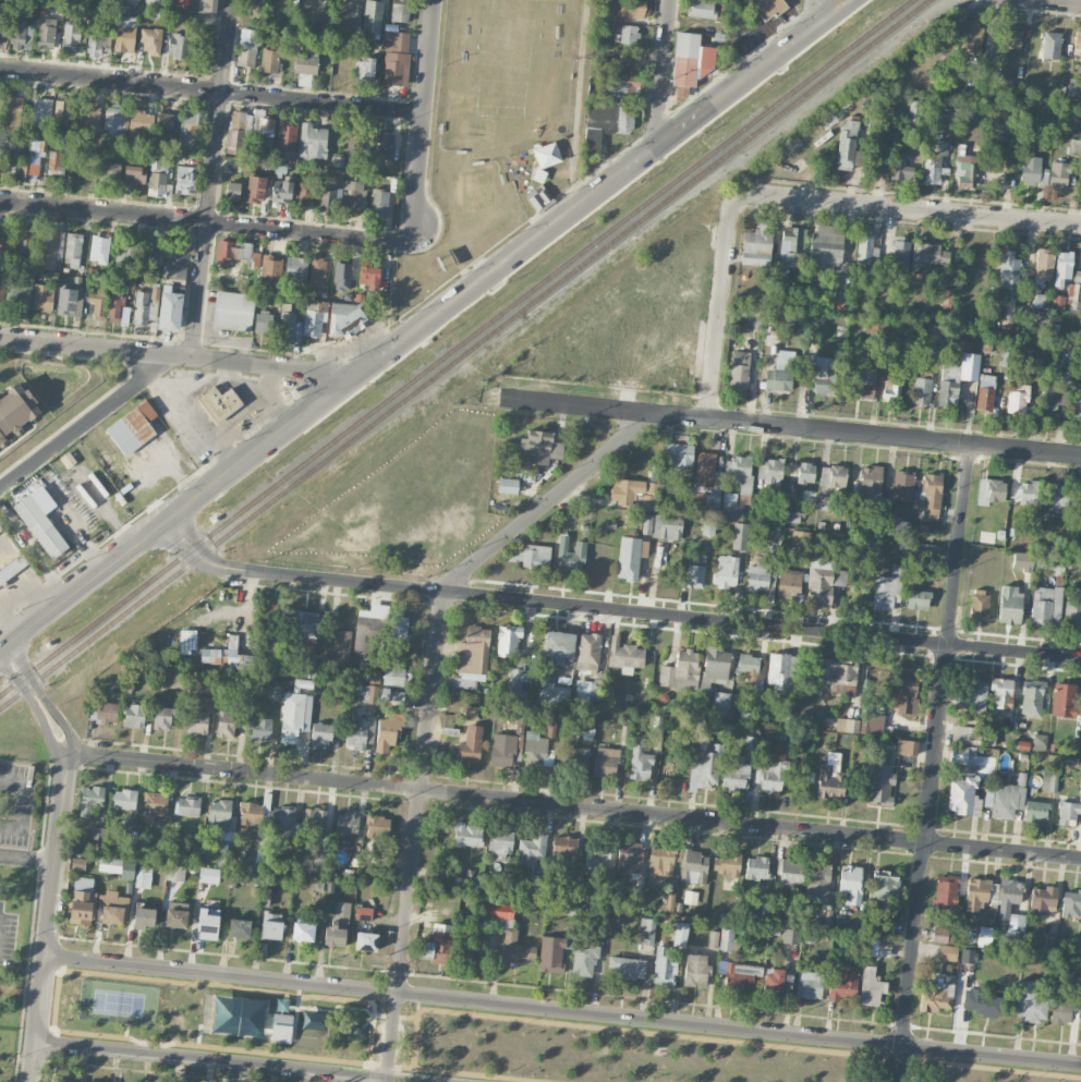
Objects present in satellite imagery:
building: (111, 0)
building: (154, 1)
building: (134, 2)
road: (1054, 2)
building: (180, 3)
building: (207, 7)
building: (628, 8)
building: (767, 8)
building: (0, 9)
building: (701, 9)
building: (400, 10)
building: (349, 12)
building: (373, 15)
road: (811, 16)
building: (46, 34)
building: (125, 34)
building: (625, 34)
building: (21, 35)
building: (971, 38)
building: (1010, 38)
building: (70, 39)
building: (150, 40)
building: (1077, 42)
building: (97, 44)
building: (991, 45)
building: (177, 46)
building: (1050, 46)
building: (247, 47)
building: (396, 58)
building: (630, 59)
building: (690, 59)
building: (269, 60)
building: (305, 68)
building: (364, 69)
road: (660, 76)
building: (892, 77)
building: (622, 86)
road: (211, 90)
road: (576, 104)
building: (13, 106)
building: (41, 112)
building: (61, 113)
building: (88, 117)
building: (830, 118)
building: (193, 119)
road: (423, 121)
building: (112, 123)
building: (163, 123)
building: (606, 123)
building: (139, 126)
building: (263, 130)
building: (236, 132)
building: (287, 136)
building: (312, 141)
building: (355, 143)
building: (385, 145)
building: (847, 145)
building: (547, 155)
building: (875, 155)
building: (9, 159)
building: (54, 162)
building: (902, 169)
building: (109, 170)
building: (933, 170)
building: (965, 170)
building: (1033, 172)
building: (1058, 174)
building: (134, 175)
building: (157, 177)
building: (184, 178)
road: (211, 179)
building: (255, 189)
building: (281, 189)
building: (232, 190)
building: (305, 192)
building: (353, 196)
building: (537, 197)
building: (328, 199)
building: (378, 203)
road: (906, 210)
road: (206, 221)
building: (3, 239)
building: (24, 240)
building: (826, 245)
building: (791, 246)
building: (757, 247)
building: (865, 248)
building: (47, 250)
building: (73, 250)
building: (99, 251)
building: (224, 251)
building: (245, 251)
building: (148, 254)
building: (932, 254)
building: (123, 256)
building: (896, 257)
building: (175, 260)
building: (1044, 263)
building: (1064, 265)
building: (267, 266)
building: (295, 268)
building: (317, 272)
building: (342, 276)
building: (368, 277)
building: (1008, 284)
building: (1, 293)
building: (19, 296)
building: (943, 296)
building: (42, 297)
building: (381, 297)
building: (1068, 297)
building: (97, 301)
building: (842, 301)
building: (70, 302)
building: (170, 307)
building: (114, 308)
building: (142, 308)
road: (718, 309)
building: (233, 311)
building: (315, 317)
building: (345, 318)
building: (264, 321)
building: (289, 326)
road: (426, 326)
building: (878, 327)
railway: (454, 347)
railway: (463, 353)
road: (172, 355)
building: (739, 368)
building: (780, 372)
building: (825, 375)
road: (238, 378)
building: (956, 378)
building: (860, 381)
road: (197, 385)
building: (921, 391)
building: (890, 393)
building: (985, 397)
road: (267, 399)
building: (1017, 400)
building: (1053, 400)
building: (219, 403)
building: (1078, 409)
building: (15, 413)
road: (192, 422)
road: (83, 425)
road: (785, 427)
building: (132, 428)
building: (538, 448)
building: (678, 455)
building: (705, 471)
building: (740, 472)
building: (805, 472)
building: (770, 473)
building: (831, 476)
building: (870, 482)
building: (508, 485)
building: (902, 486)
building: (989, 490)
building: (634, 493)
building: (1028, 493)
building: (931, 497)
building: (1059, 498)
building: (705, 500)
building: (824, 501)
road: (545, 502)
building: (731, 507)
building: (792, 516)
building: (645, 524)
building: (40, 526)
building: (894, 526)
building: (708, 527)
building: (669, 528)
building: (1, 530)
building: (773, 533)
building: (740, 536)
building: (801, 539)
building: (927, 551)
building: (571, 555)
building: (530, 556)
building: (628, 558)
building: (1022, 560)
building: (12, 568)
building: (726, 572)
building: (695, 573)
building: (757, 576)
building: (823, 580)
building: (789, 582)
building: (887, 588)
building: (918, 599)
building: (1009, 604)
building: (979, 605)
building: (1045, 606)
building: (1072, 609)
road: (615, 612)
building: (305, 624)
building: (399, 627)
building: (368, 628)
building: (508, 640)
building: (187, 641)
building: (342, 643)
building: (557, 647)
building: (588, 652)
building: (224, 655)
building: (624, 656)
building: (472, 658)
building: (715, 666)
building: (752, 667)
building: (680, 671)
building: (394, 672)
building: (782, 672)
building: (837, 673)
building: (374, 677)
building: (518, 681)
building: (209, 684)
building: (588, 688)
building: (275, 692)
building: (903, 692)
building: (554, 693)
building: (1001, 693)
building: (372, 694)
building: (973, 694)
building: (392, 695)
building: (1031, 697)
building: (1064, 700)
building: (720, 704)
building: (93, 709)
building: (471, 712)
building: (107, 713)
building: (133, 716)
building: (294, 716)
building: (162, 717)
building: (197, 722)
building: (872, 722)
building: (227, 724)
building: (551, 725)
building: (847, 725)
building: (260, 729)
building: (587, 731)
building: (360, 732)
building: (321, 733)
building: (387, 733)
building: (965, 734)
building: (988, 739)
building: (1039, 742)
building: (469, 745)
building: (906, 746)
building: (1073, 747)
building: (536, 750)
building: (962, 754)
building: (501, 755)
building: (578, 758)
building: (639, 759)
building: (606, 762)
road: (933, 764)
building: (705, 767)
building: (736, 771)
building: (770, 775)
building: (831, 778)
building: (1049, 780)
building: (878, 785)
building: (1080, 790)
building: (963, 797)
building: (124, 799)
building: (90, 800)
road: (514, 800)
building: (1007, 800)
road: (25, 803)
building: (155, 805)
building: (189, 805)
building: (1035, 811)
building: (251, 813)
building: (1068, 813)
building: (221, 818)
building: (283, 820)
building: (314, 823)
building: (347, 823)
building: (377, 826)
building: (98, 834)
building: (130, 837)
road: (414, 838)
building: (500, 843)
building: (564, 847)
building: (532, 849)
building: (629, 858)
road: (27, 859)
building: (594, 862)
building: (659, 864)
building: (727, 864)
building: (118, 866)
building: (756, 867)
building: (175, 873)
building: (790, 873)
building: (208, 875)
building: (818, 883)
building: (885, 883)
building: (535, 884)
building: (850, 884)
building: (604, 888)
building: (946, 891)
building: (976, 893)
building: (635, 895)
building: (265, 897)
building: (1008, 898)
building: (1043, 899)
building: (82, 901)
building: (1071, 903)
building: (667, 904)
building: (112, 908)
building: (498, 911)
building: (363, 913)
building: (177, 914)
road: (50, 915)
building: (144, 916)
building: (207, 923)
building: (338, 925)
building: (271, 926)
building: (239, 927)
building: (874, 928)
building: (647, 929)
building: (303, 932)
building: (680, 934)
building: (984, 935)
building: (790, 936)
building: (943, 936)
building: (1012, 938)
building: (713, 939)
building: (726, 939)
building: (365, 941)
building: (438, 945)
building: (876, 946)
building: (258, 947)
building: (515, 948)
building: (948, 952)
building: (551, 953)
building: (584, 959)
building: (664, 966)
building: (628, 968)
building: (695, 970)
building: (740, 977)
building: (1077, 978)
building: (773, 981)
building: (809, 984)
building: (843, 985)
building: (871, 987)
building: (936, 997)
park: (119, 999)
building: (980, 1002)
building: (1030, 1002)
building: (1061, 1009)
road: (562, 1010)
park: (234, 1016)
building: (313, 1021)
building: (281, 1028)
building: (356, 1032)
park: (459, 1038)
road: (221, 1060)

